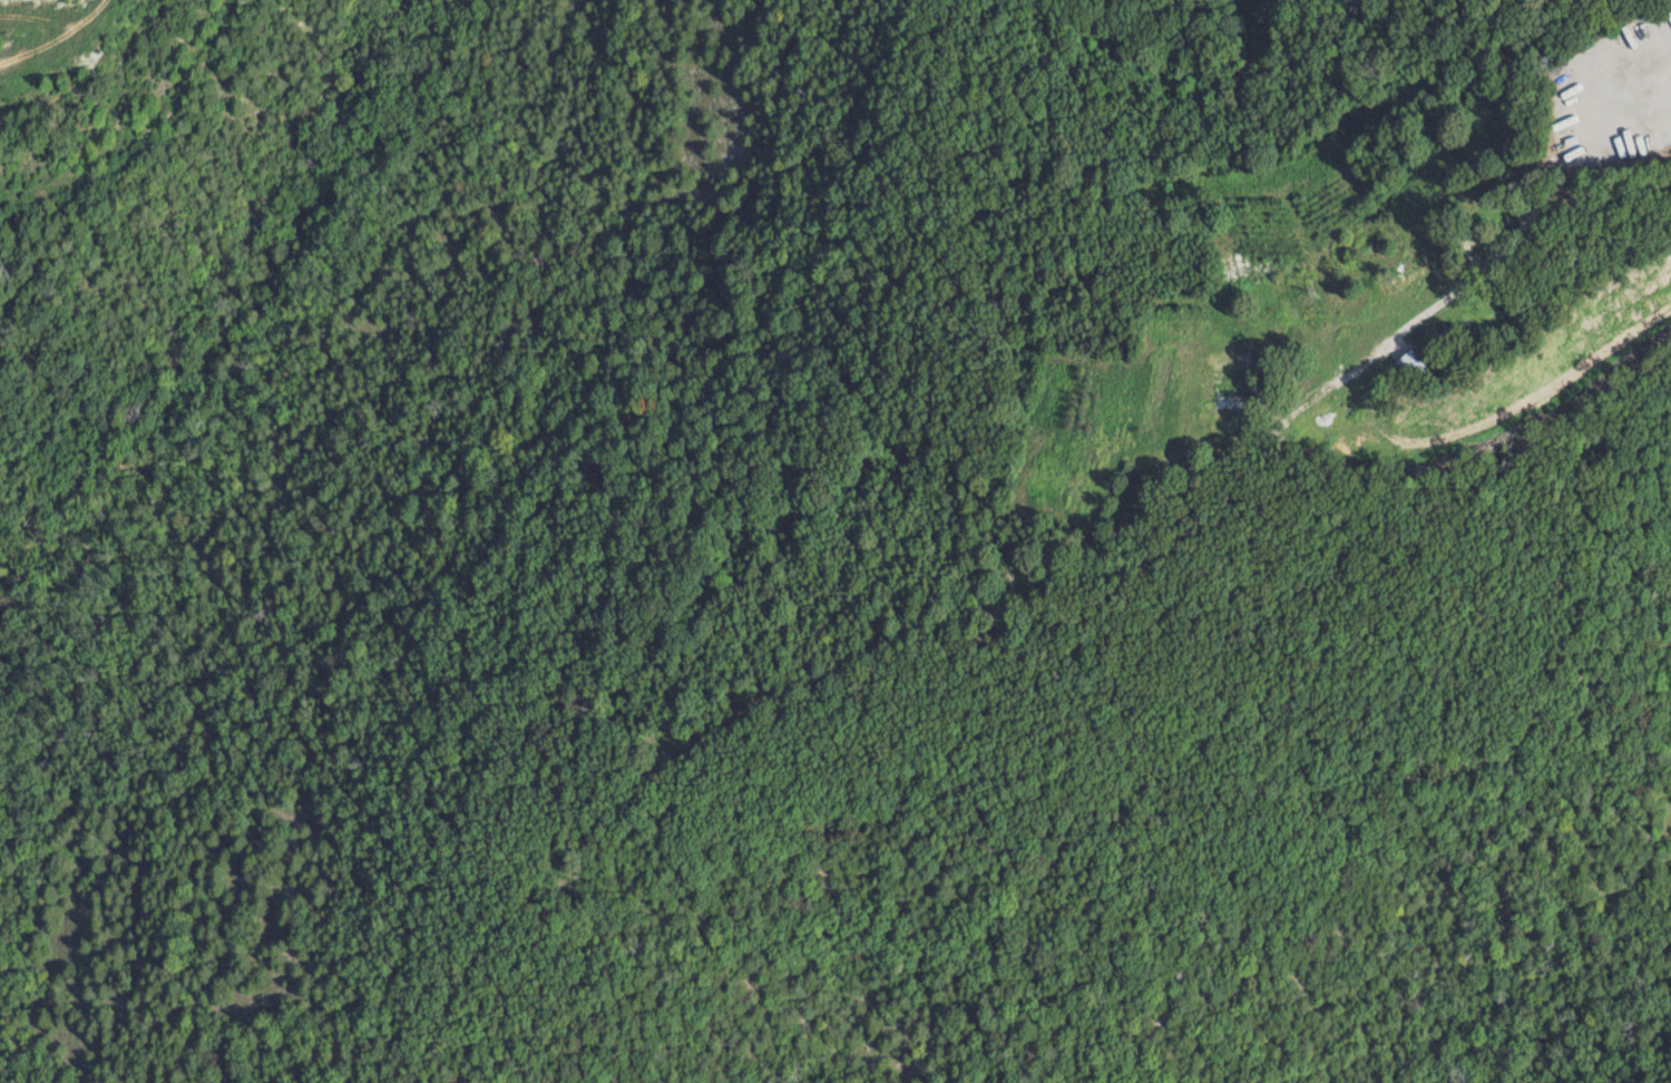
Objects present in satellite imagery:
road: (39, 19)
road: (55, 38)
building: (1406, 272)
road: (1466, 282)

